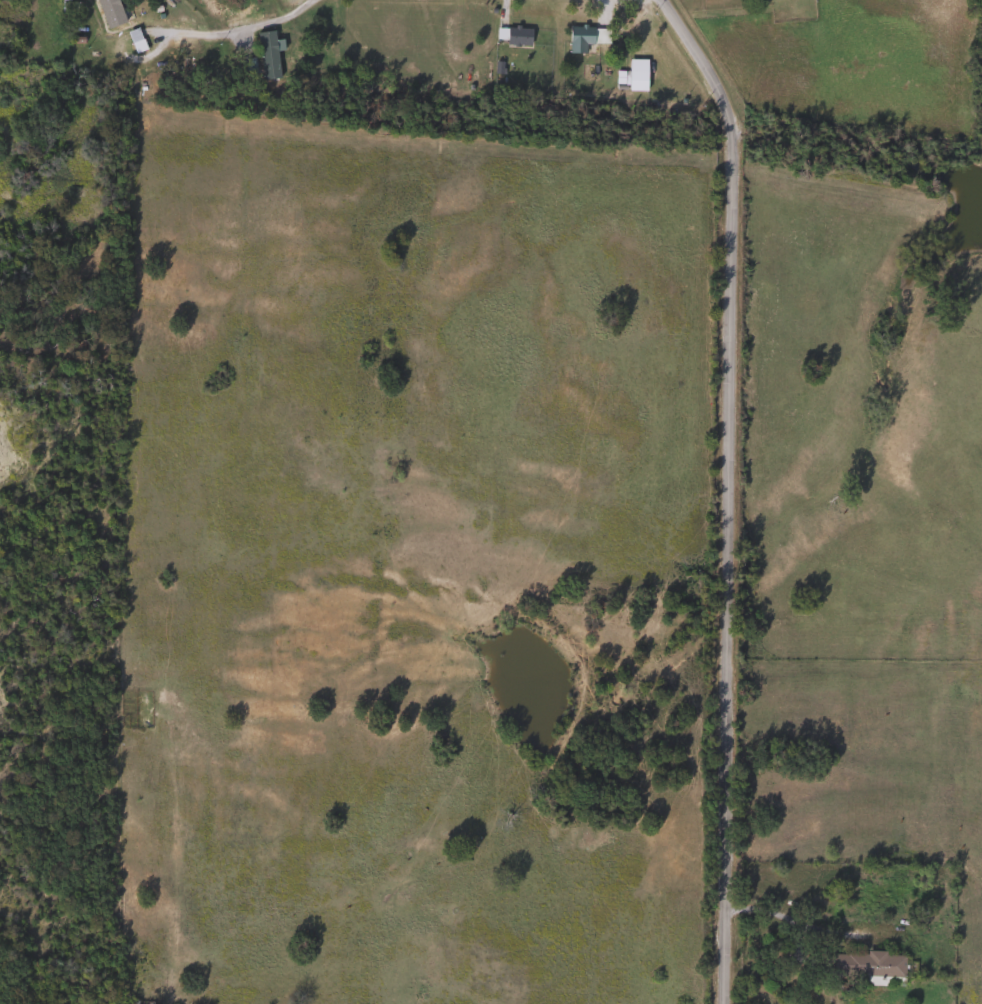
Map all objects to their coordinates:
building: (62, 10)
building: (108, 10)
road: (244, 29)
building: (515, 37)
building: (584, 38)
building: (133, 41)
building: (266, 54)
road: (467, 182)
road: (728, 492)
road: (790, 920)
building: (867, 964)

